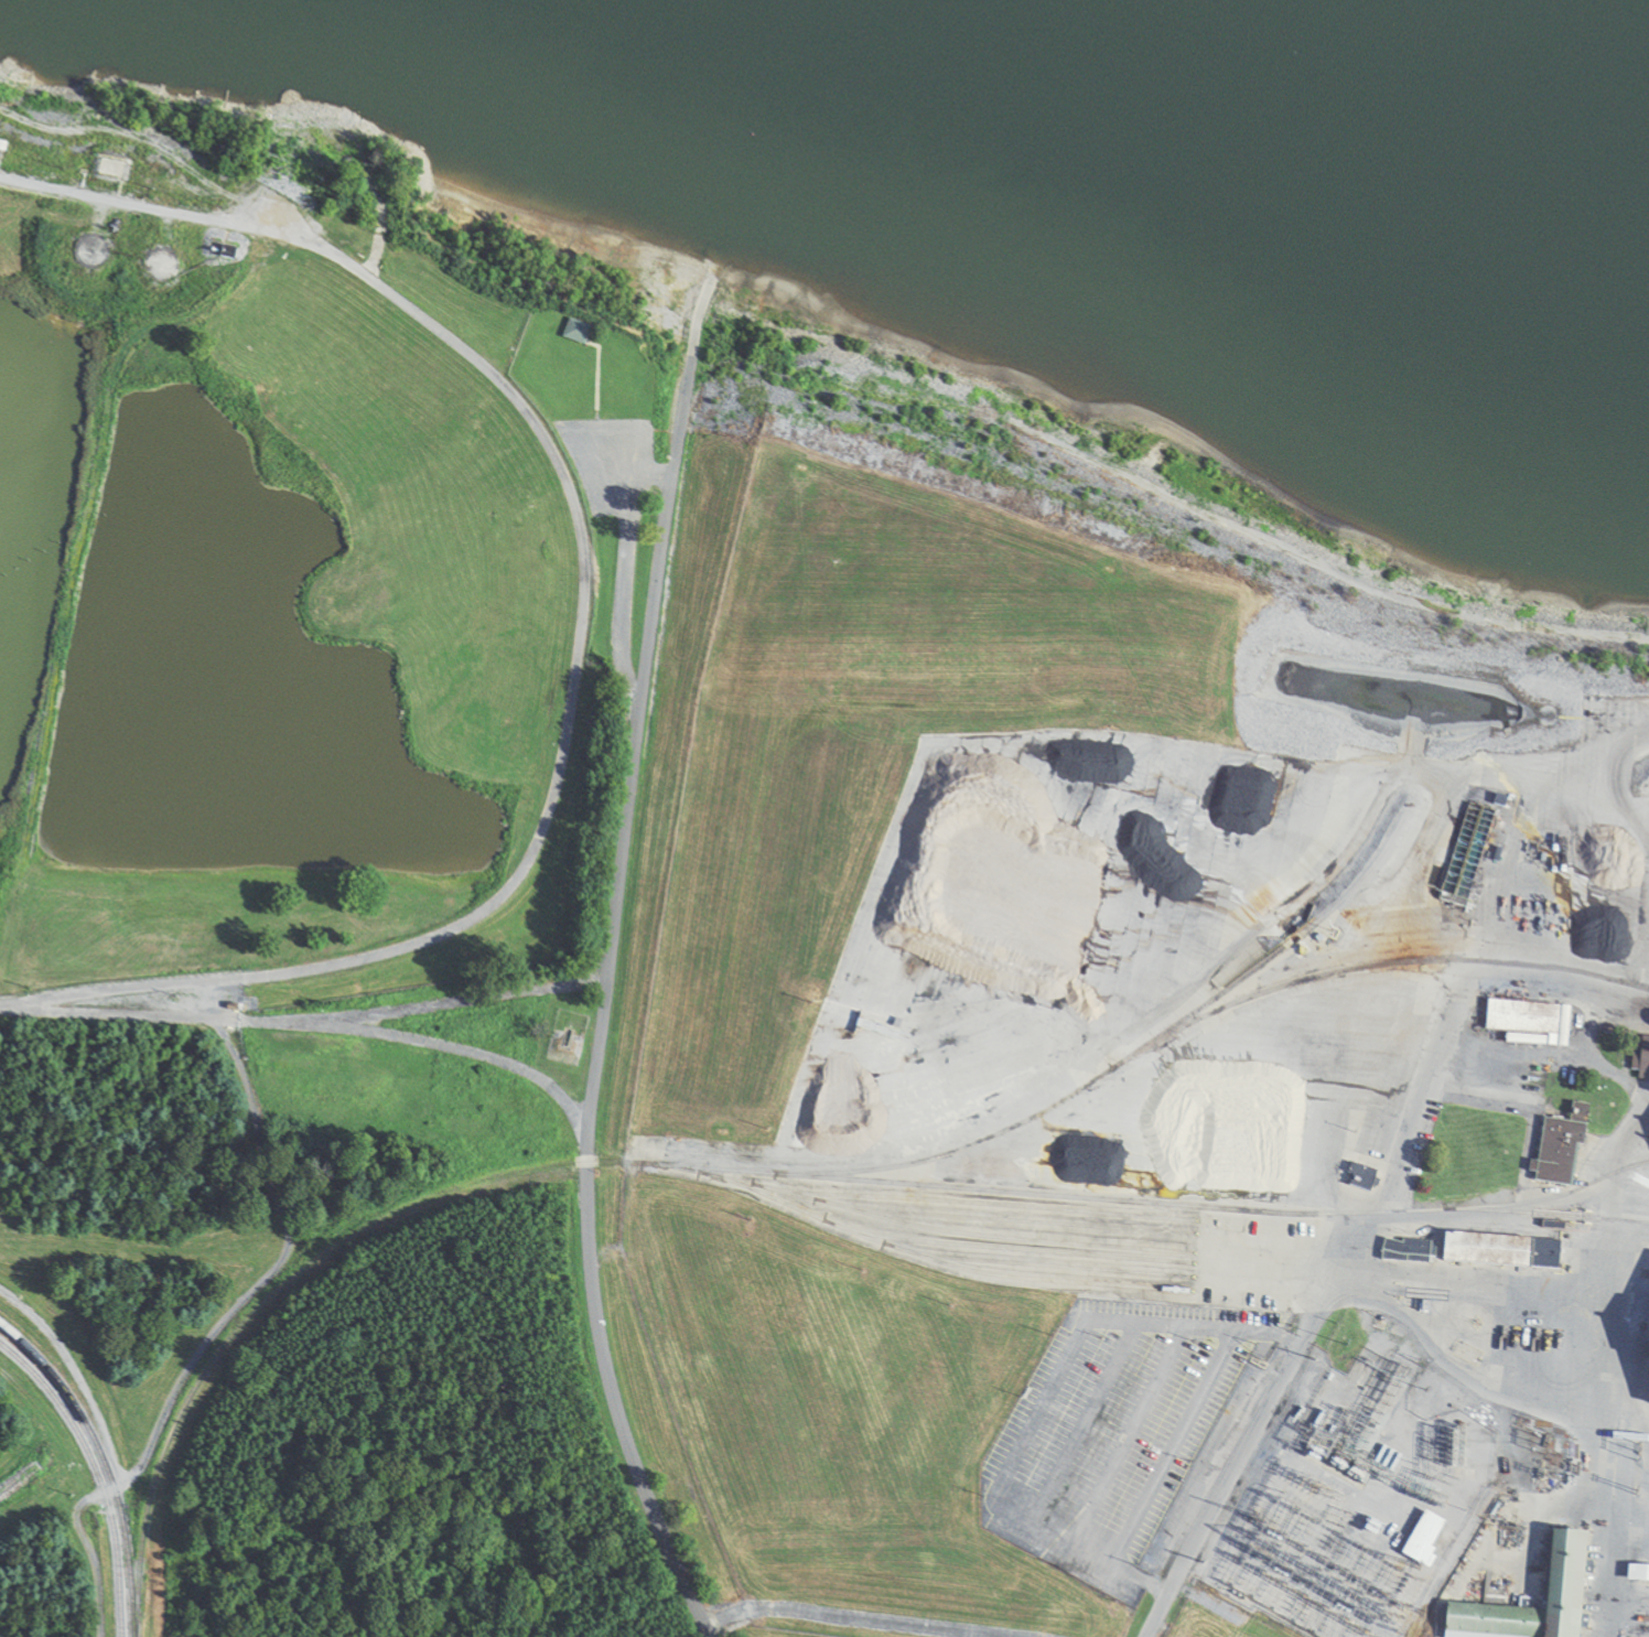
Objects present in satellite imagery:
river: (1458, 52)
road: (701, 299)
building: (575, 333)
road: (579, 620)
railway: (1397, 960)
road: (604, 984)
building: (1529, 1021)
road: (304, 1025)
road: (472, 1054)
building: (1643, 1060)
building: (1560, 1148)
railway: (539, 1168)
railway: (822, 1178)
building: (1360, 1178)
railway: (989, 1205)
railway: (1565, 1217)
railway: (1016, 1221)
railway: (952, 1232)
railway: (1022, 1250)
building: (1406, 1252)
building: (1501, 1252)
railway: (1048, 1268)
road: (222, 1321)
railway: (104, 1448)
road: (1233, 1456)
railway: (96, 1476)
power substation: (1356, 1509)
building: (1424, 1539)
power tower: (1201, 1562)
building: (1567, 1570)
building: (1638, 1575)
road: (841, 1616)

